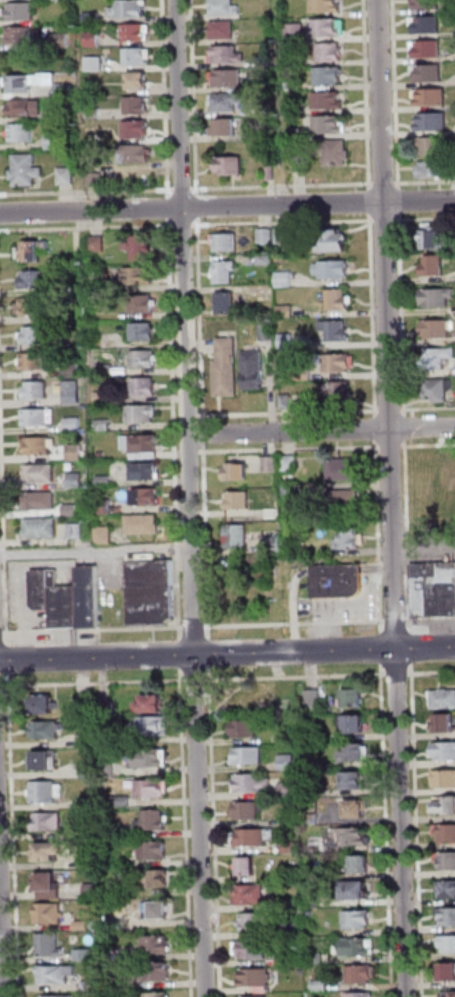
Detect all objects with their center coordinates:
building: (427, 4)
building: (326, 6)
building: (225, 7)
building: (131, 9)
building: (23, 12)
building: (93, 18)
building: (427, 25)
building: (329, 28)
building: (224, 30)
building: (296, 31)
building: (136, 33)
building: (21, 35)
building: (94, 39)
building: (63, 41)
building: (427, 49)
building: (330, 52)
building: (227, 55)
building: (138, 57)
building: (296, 61)
building: (267, 62)
building: (96, 64)
building: (429, 73)
building: (330, 75)
building: (228, 78)
building: (30, 82)
building: (140, 82)
building: (295, 84)
building: (65, 90)
road: (368, 94)
road: (396, 94)
road: (196, 97)
building: (431, 97)
road: (167, 98)
building: (329, 101)
building: (228, 102)
building: (138, 106)
building: (27, 108)
building: (269, 108)
building: (95, 114)
building: (434, 123)
building: (330, 125)
building: (225, 128)
building: (138, 130)
building: (23, 133)
building: (297, 134)
building: (57, 141)
building: (434, 146)
building: (300, 151)
building: (337, 153)
building: (138, 154)
building: (230, 166)
building: (436, 170)
building: (27, 171)
building: (271, 173)
building: (68, 176)
building: (97, 180)
road: (425, 182)
road: (385, 183)
road: (284, 186)
road: (185, 189)
road: (87, 192)
road: (400, 195)
road: (371, 196)
road: (199, 202)
road: (227, 207)
road: (171, 208)
road: (181, 226)
road: (88, 228)
building: (284, 236)
building: (268, 237)
building: (432, 241)
building: (226, 242)
building: (334, 242)
building: (99, 245)
building: (141, 248)
building: (33, 252)
building: (268, 259)
building: (434, 266)
building: (334, 270)
building: (226, 272)
building: (138, 277)
building: (35, 280)
building: (286, 280)
building: (71, 289)
building: (438, 297)
building: (339, 300)
building: (227, 303)
building: (144, 305)
building: (34, 308)
building: (287, 311)
building: (437, 329)
building: (337, 331)
building: (269, 332)
building: (145, 333)
building: (36, 336)
building: (289, 341)
building: (437, 358)
building: (146, 360)
building: (36, 362)
building: (339, 363)
building: (75, 367)
building: (227, 369)
building: (109, 370)
building: (255, 371)
building: (305, 375)
building: (147, 387)
building: (437, 390)
building: (39, 391)
building: (339, 391)
building: (74, 393)
building: (104, 398)
building: (287, 402)
building: (144, 414)
building: (38, 417)
building: (75, 425)
building: (105, 425)
road: (323, 429)
road: (176, 430)
road: (407, 434)
road: (429, 445)
building: (41, 446)
building: (143, 446)
road: (398, 446)
road: (4, 453)
building: (77, 453)
building: (104, 455)
building: (292, 464)
building: (272, 465)
building: (345, 469)
building: (146, 472)
building: (42, 473)
building: (238, 473)
building: (448, 476)
building: (77, 481)
building: (106, 481)
building: (425, 488)
building: (293, 492)
building: (148, 497)
road: (193, 498)
road: (394, 498)
building: (345, 499)
building: (240, 501)
building: (43, 502)
building: (106, 507)
building: (73, 511)
building: (145, 526)
building: (43, 529)
building: (79, 532)
building: (107, 536)
building: (239, 537)
road: (410, 537)
building: (351, 539)
building: (273, 542)
road: (425, 549)
road: (97, 552)
road: (311, 571)
building: (339, 582)
building: (45, 588)
building: (434, 590)
building: (153, 593)
building: (91, 596)
building: (67, 607)
road: (363, 607)
road: (432, 619)
road: (403, 620)
road: (192, 627)
road: (95, 631)
road: (2, 634)
road: (182, 648)
road: (413, 649)
road: (10, 652)
road: (227, 653)
road: (383, 656)
road: (211, 661)
road: (432, 673)
road: (400, 674)
road: (299, 677)
road: (203, 680)
building: (315, 699)
building: (240, 700)
building: (356, 700)
building: (445, 700)
building: (149, 702)
building: (44, 703)
building: (447, 724)
building: (149, 725)
building: (357, 725)
building: (44, 729)
building: (247, 729)
building: (445, 751)
building: (357, 754)
building: (250, 756)
building: (149, 757)
building: (43, 758)
building: (288, 763)
building: (446, 779)
building: (356, 782)
building: (255, 783)
building: (150, 787)
building: (290, 790)
building: (45, 791)
building: (446, 806)
building: (358, 809)
building: (250, 810)
building: (151, 818)
building: (45, 819)
building: (313, 820)
building: (292, 821)
road: (389, 830)
road: (419, 830)
road: (217, 832)
building: (447, 833)
building: (254, 838)
building: (341, 840)
building: (292, 847)
building: (151, 849)
building: (47, 850)
building: (449, 861)
building: (363, 865)
building: (248, 868)
building: (156, 877)
building: (47, 884)
building: (448, 890)
building: (357, 892)
building: (252, 896)
building: (316, 903)
road: (3, 904)
building: (158, 909)
building: (46, 912)
building: (447, 917)
building: (359, 920)
building: (257, 923)
building: (293, 930)
building: (48, 943)
building: (155, 943)
building: (449, 945)
building: (359, 947)
building: (252, 950)
building: (82, 953)
building: (293, 958)
building: (319, 959)
building: (155, 970)
building: (55, 973)
building: (448, 973)
building: (361, 975)
building: (257, 978)
building: (322, 987)
building: (156, 994)
building: (53, 995)
building: (362, 995)
building: (450, 995)
building: (253, 996)

